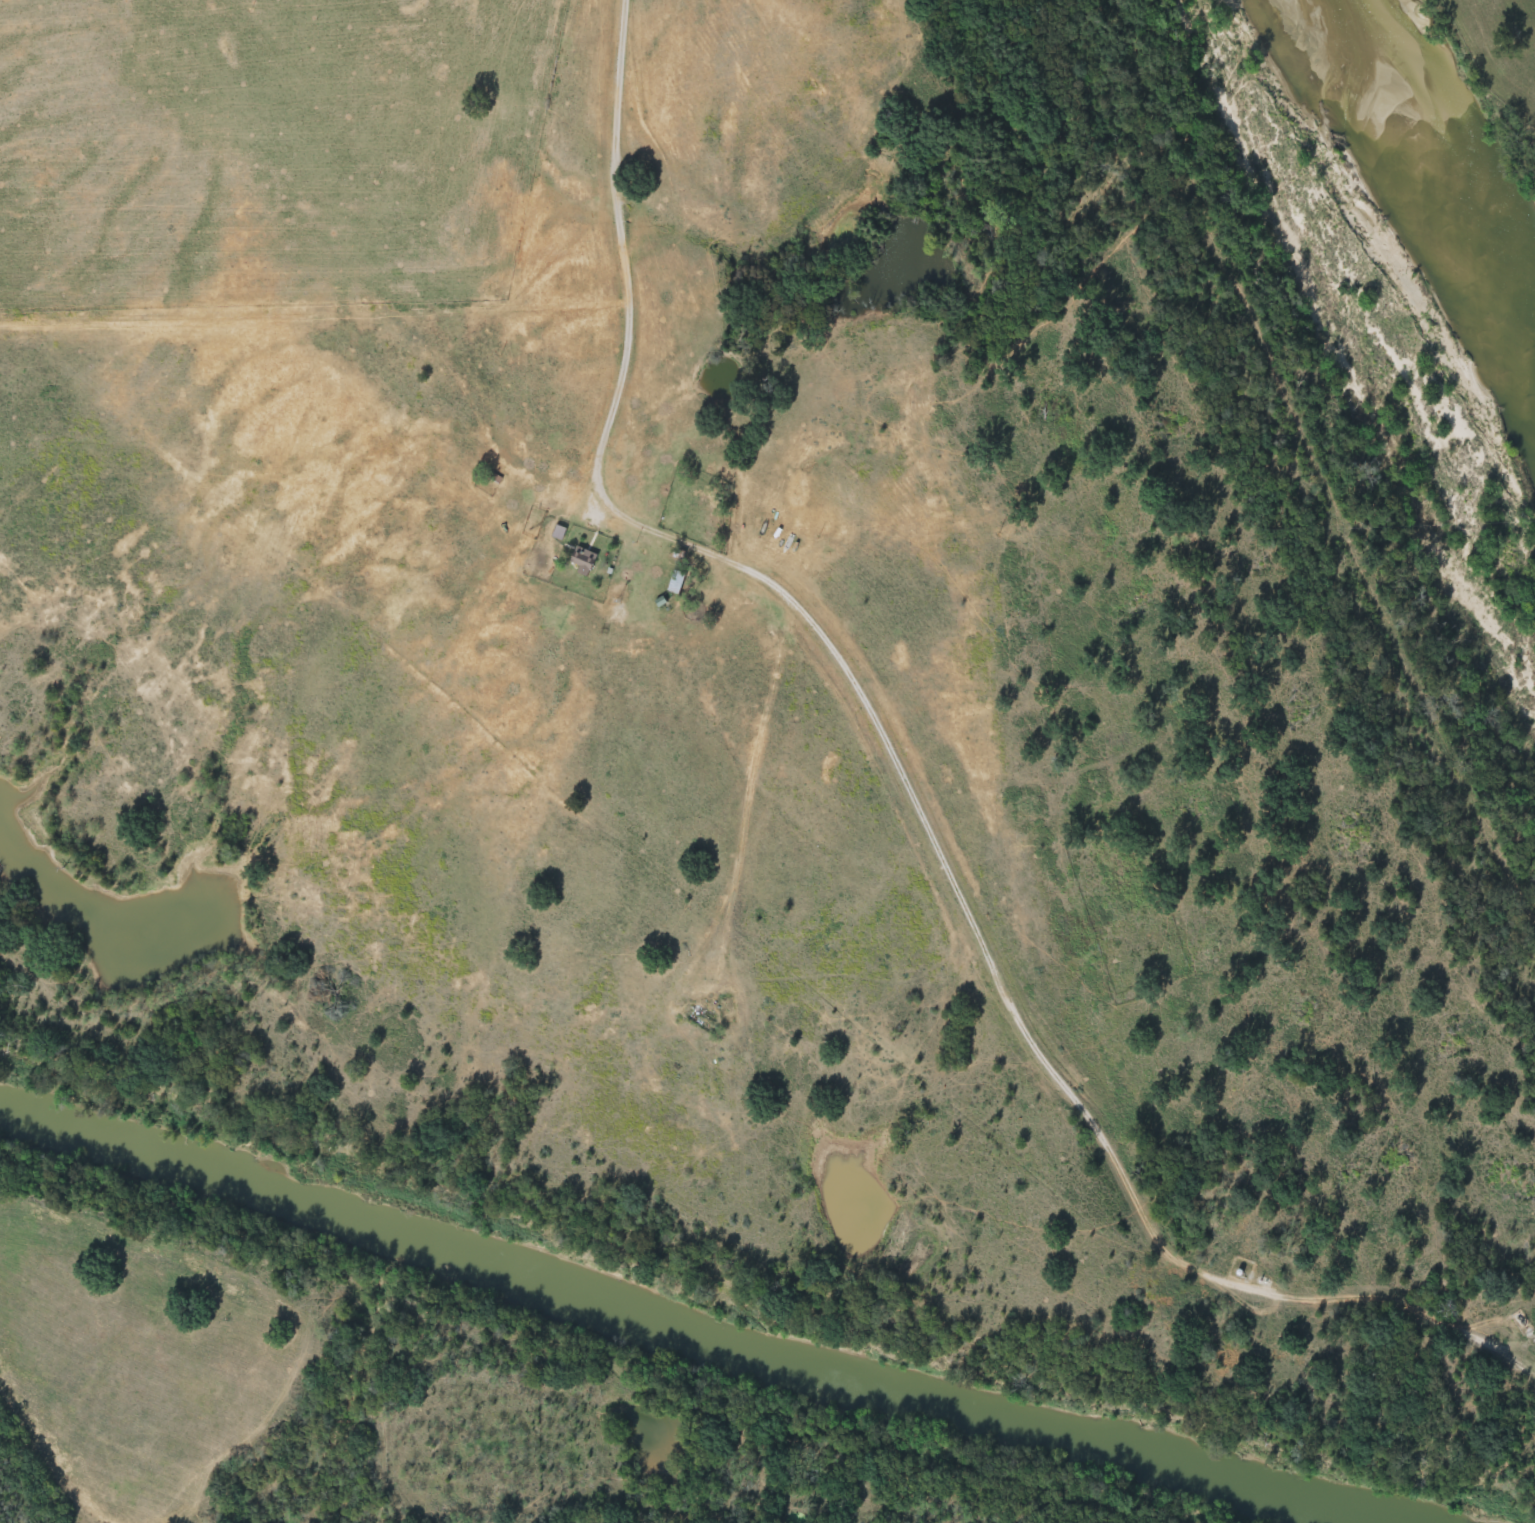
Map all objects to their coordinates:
river: (1449, 152)
building: (584, 560)
building: (678, 581)
road: (897, 759)

